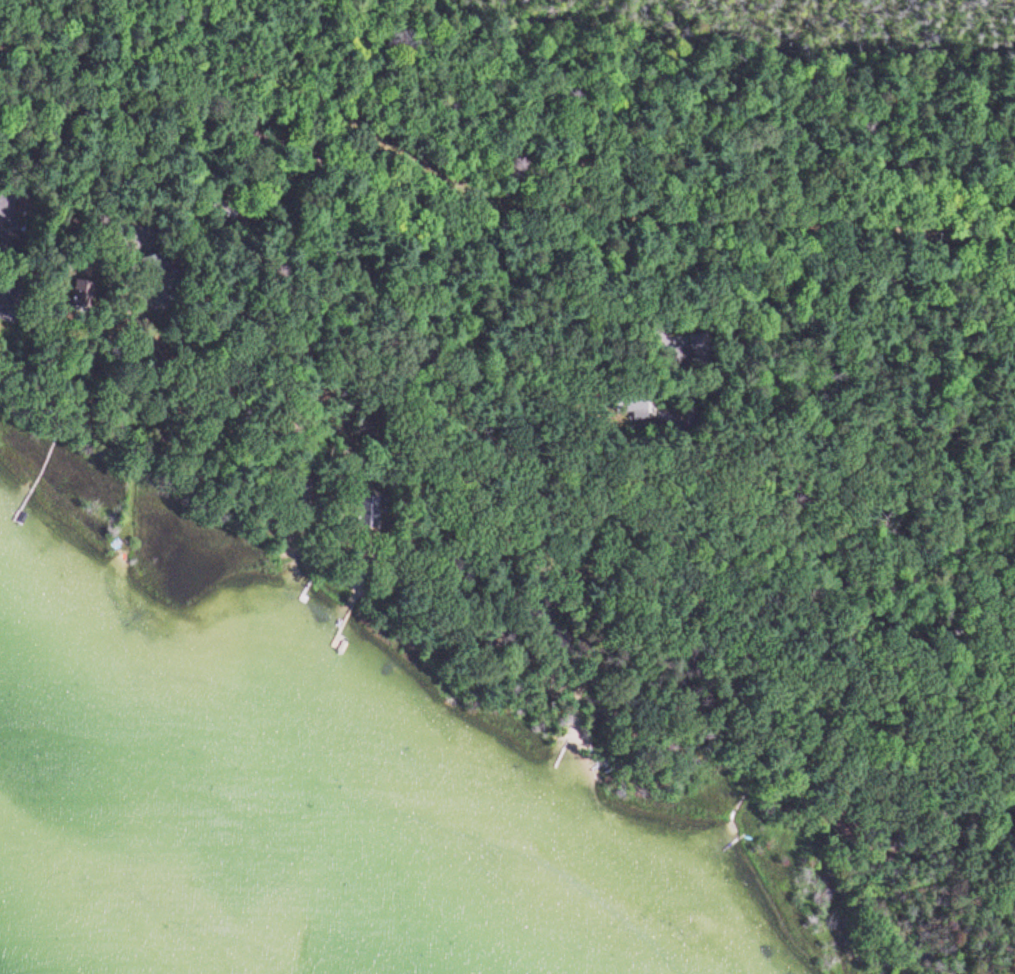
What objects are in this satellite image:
road: (494, 233)
road: (986, 336)
building: (696, 345)
building: (626, 399)
building: (303, 492)
building: (364, 508)
road: (736, 617)

